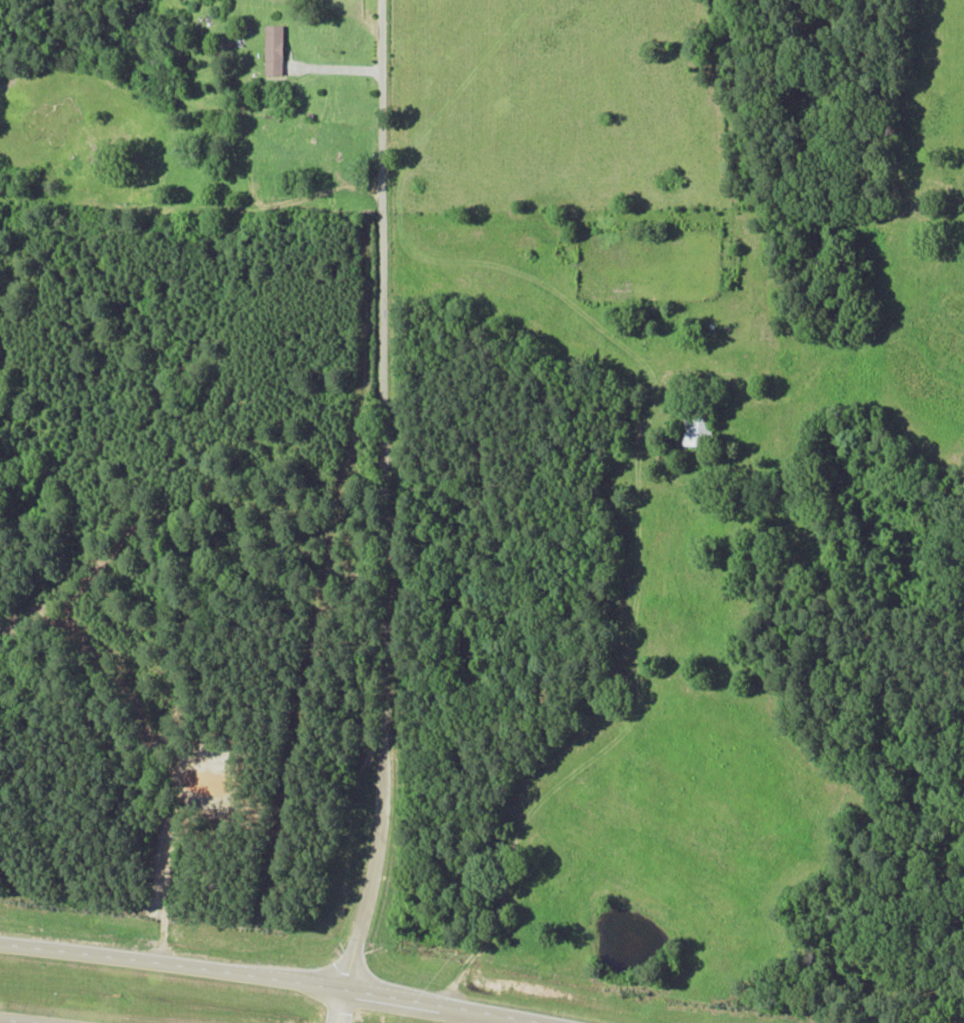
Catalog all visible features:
building: (274, 50)
building: (696, 428)
road: (380, 513)
road: (268, 978)
road: (9, 1021)

